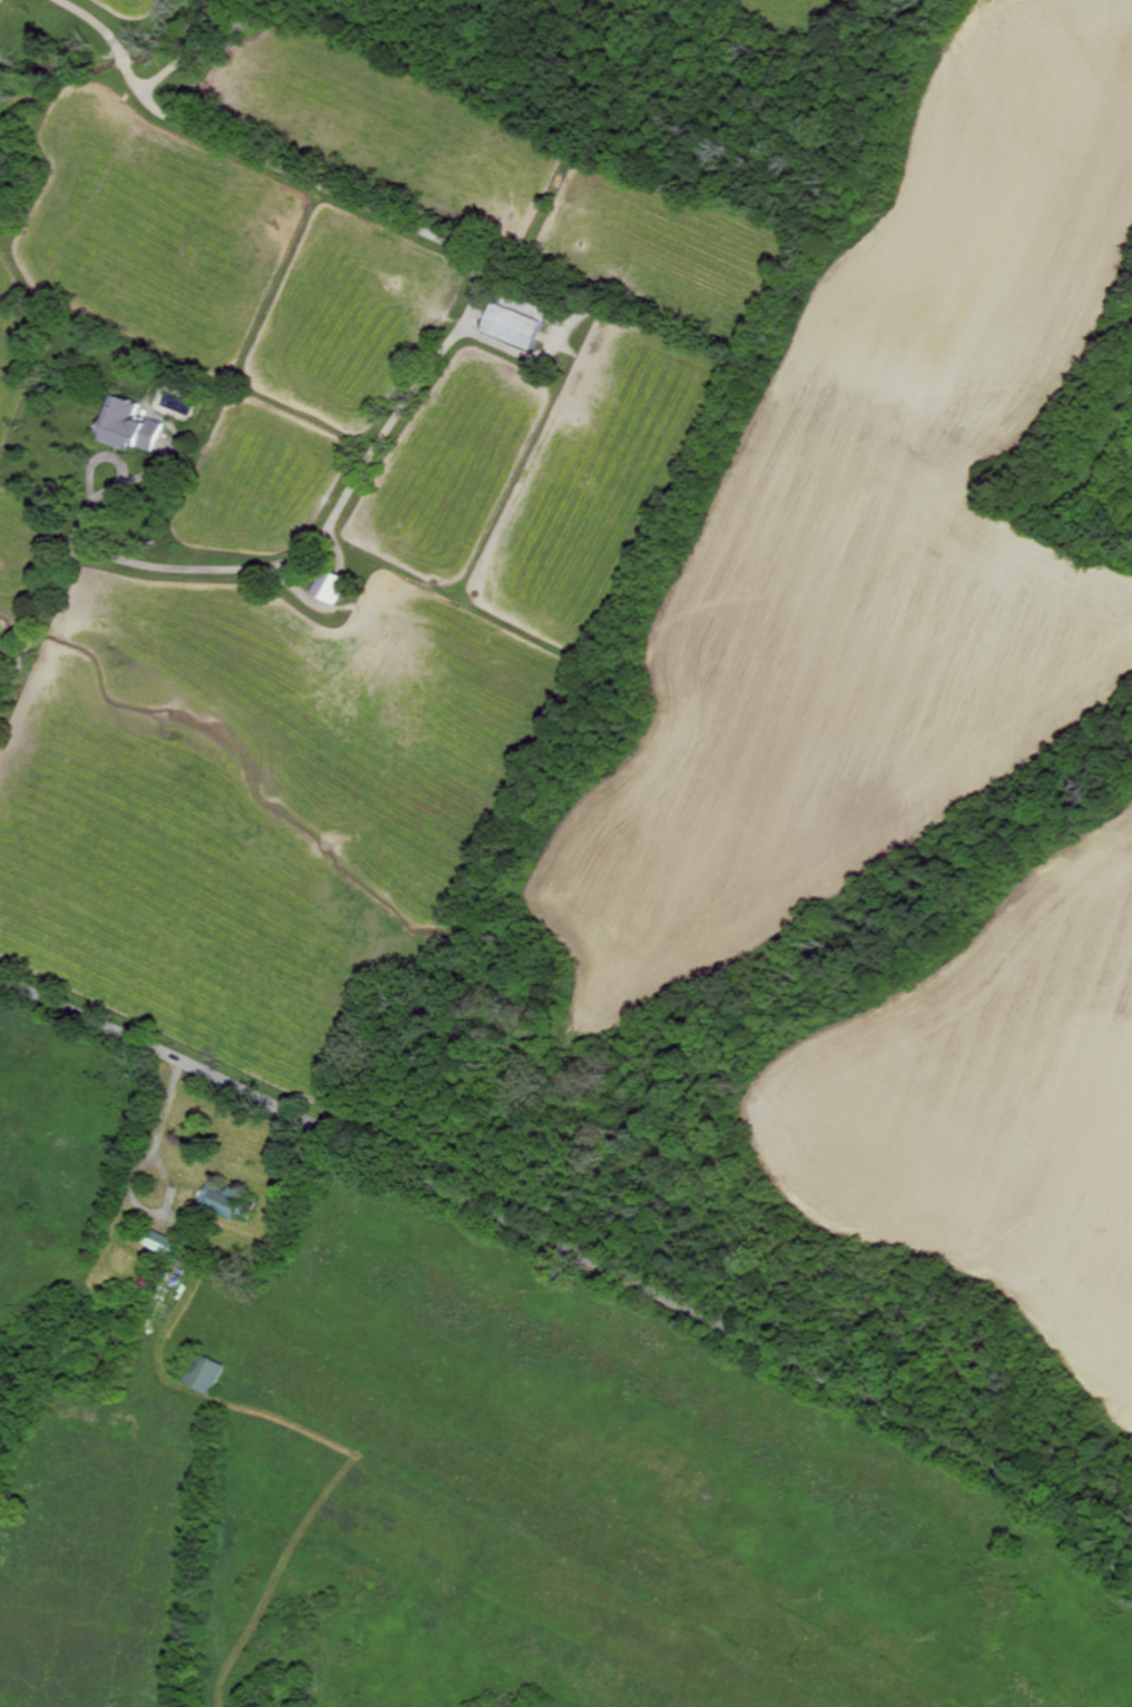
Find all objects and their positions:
building: (516, 326)
building: (85, 339)
road: (425, 373)
building: (131, 425)
building: (332, 582)
building: (232, 1201)
building: (131, 1223)
building: (164, 1242)
road: (578, 1254)
building: (151, 1280)
silo: (151, 1280)
building: (174, 1289)
building: (118, 1340)
building: (207, 1370)
airport runway: (577, 1526)

